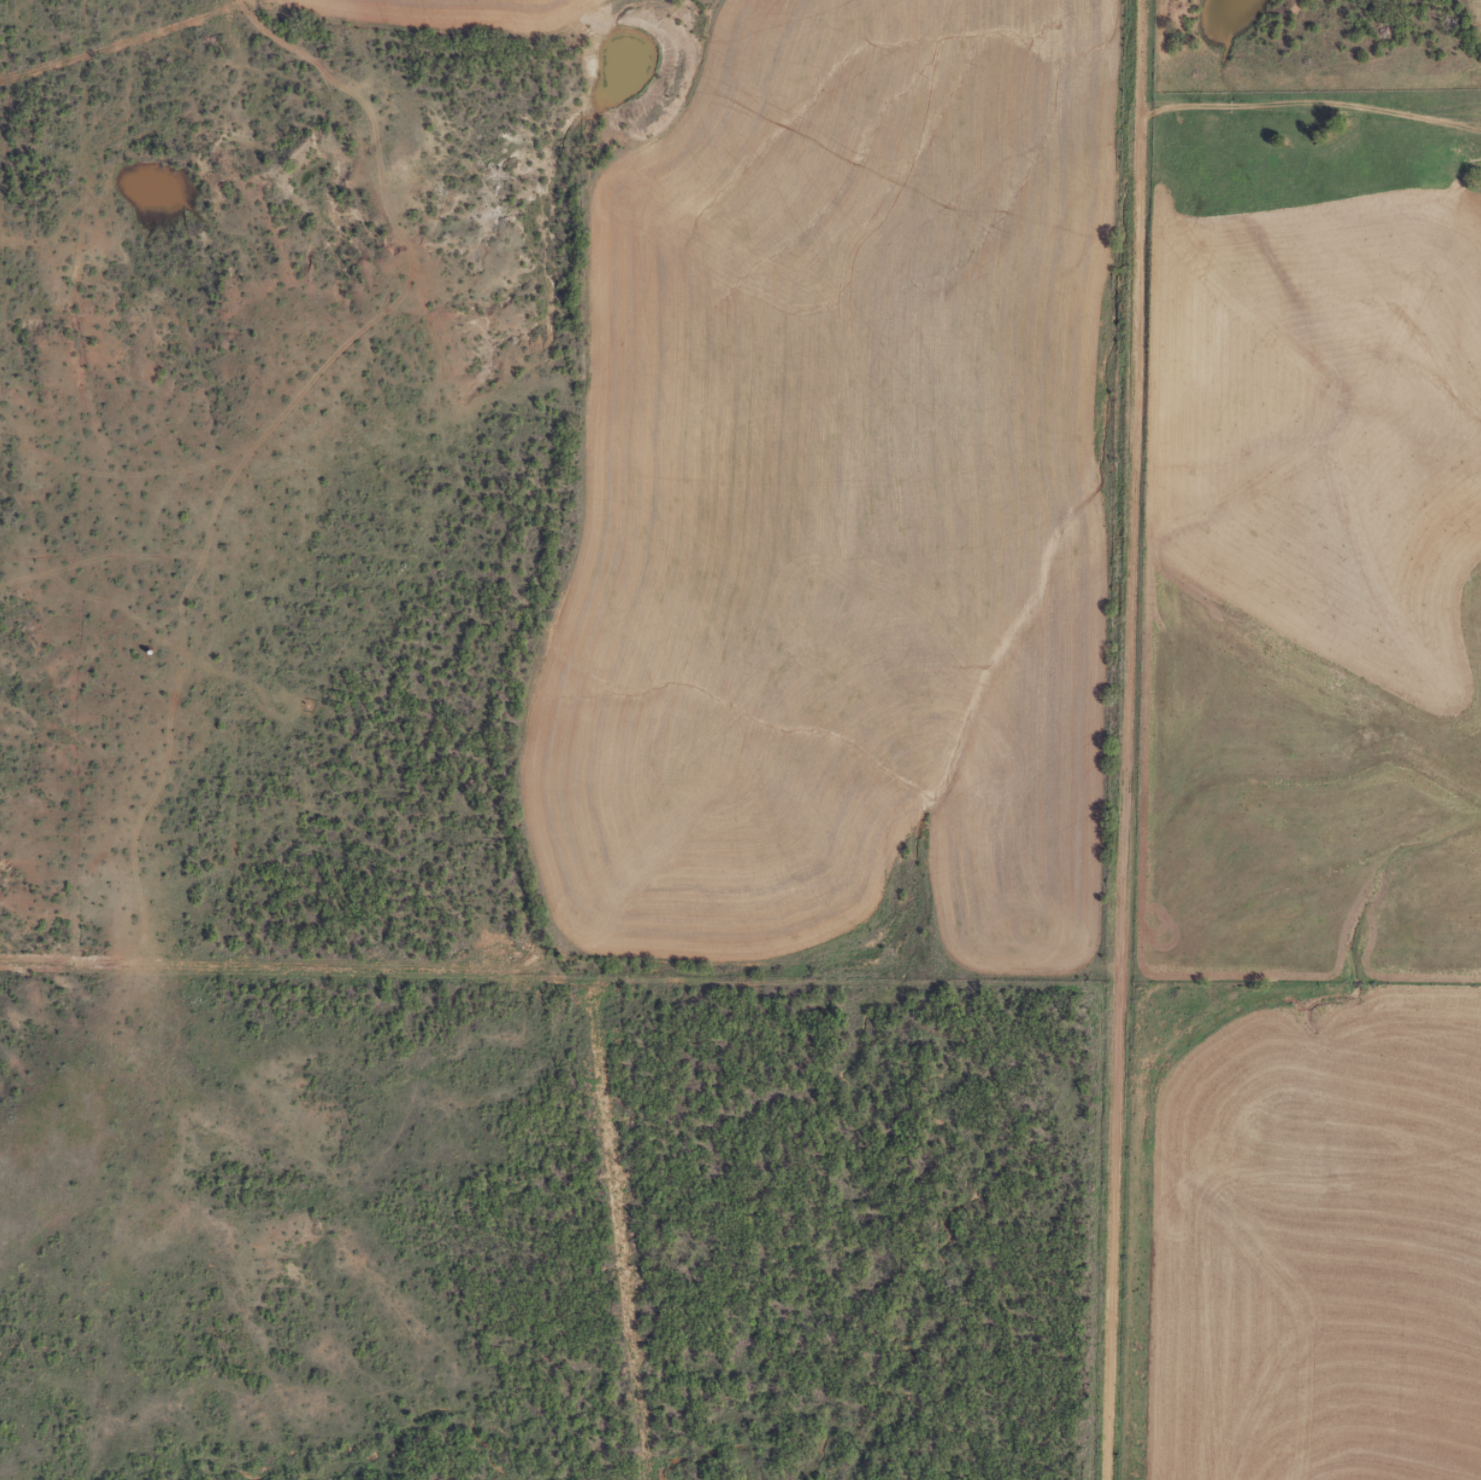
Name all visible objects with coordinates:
road: (1130, 740)

